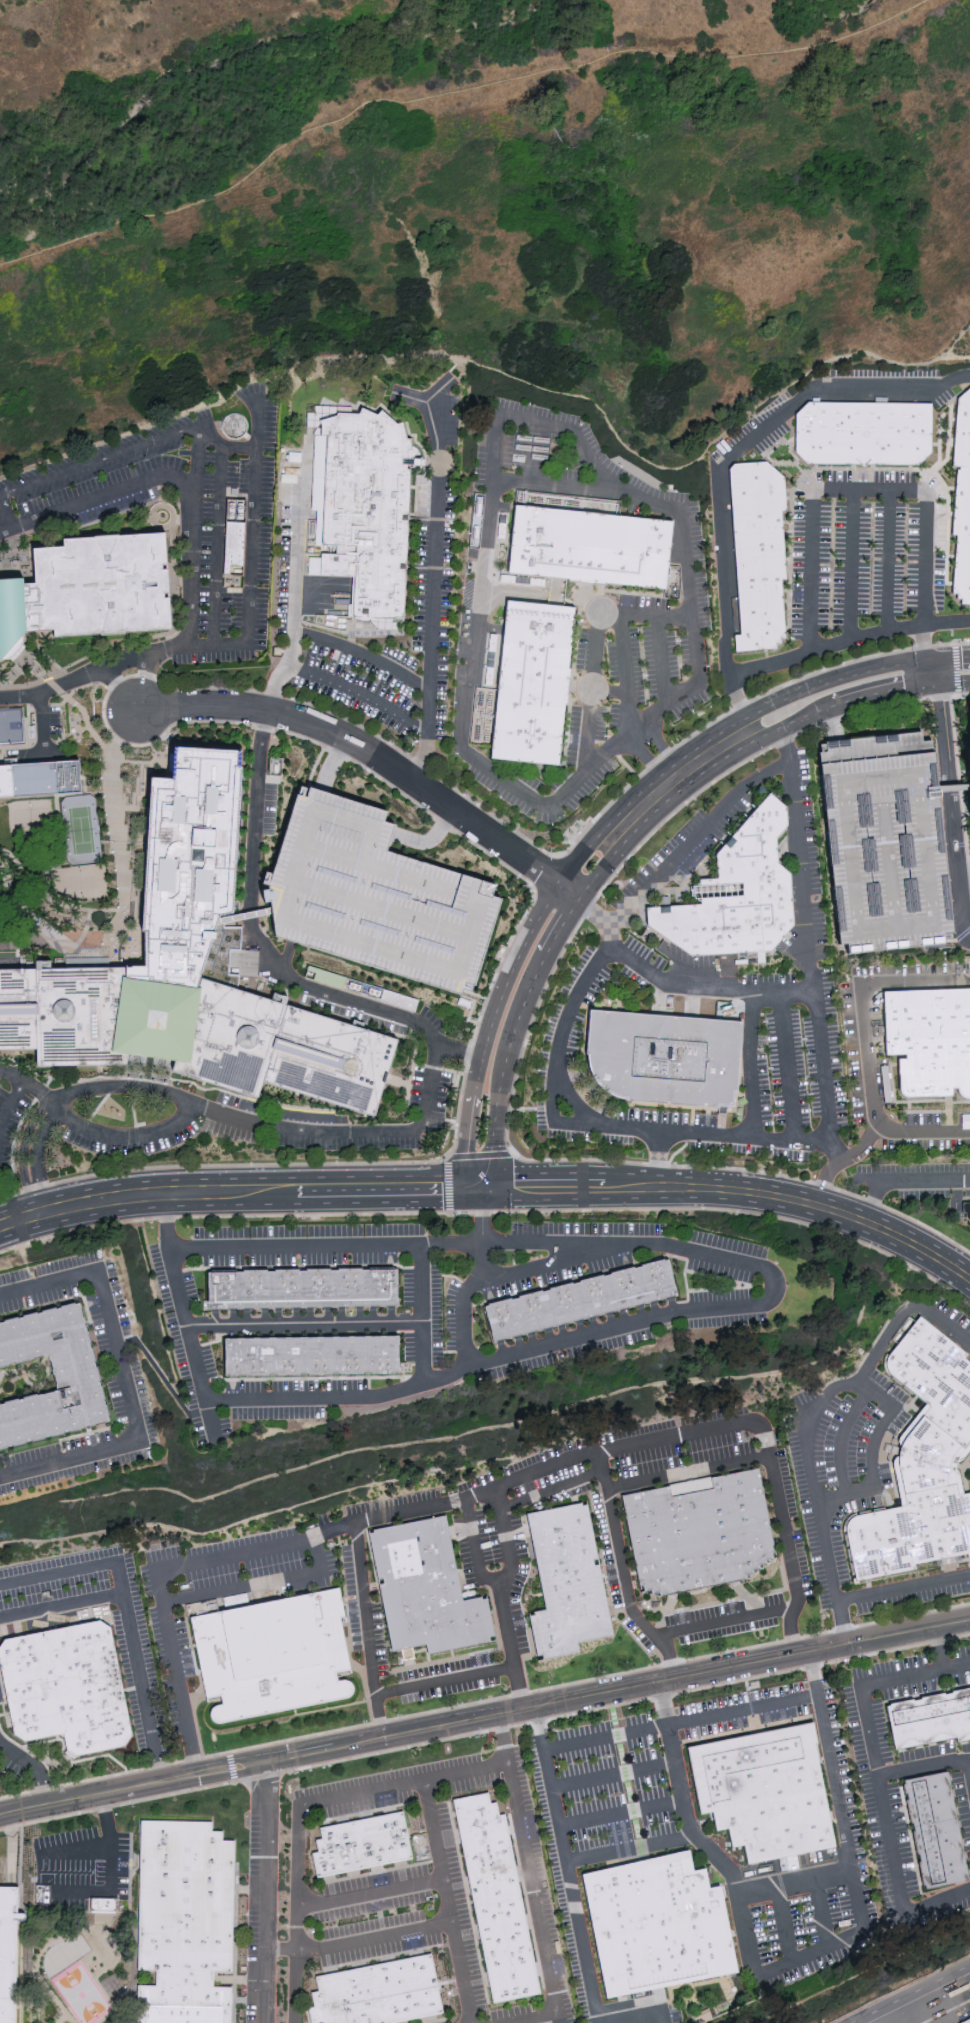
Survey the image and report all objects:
road: (448, 94)
road: (957, 338)
road: (511, 375)
road: (441, 388)
parking lot: (941, 392)
parking lot: (759, 429)
building: (863, 433)
road: (746, 443)
road: (222, 447)
road: (195, 450)
road: (491, 457)
parking lot: (869, 481)
road: (558, 487)
road: (853, 491)
road: (161, 494)
road: (96, 499)
building: (962, 501)
building: (367, 510)
road: (5, 516)
road: (148, 516)
parking lot: (181, 516)
road: (177, 518)
building: (235, 532)
road: (435, 546)
building: (589, 546)
road: (216, 547)
road: (249, 553)
building: (758, 556)
parking lot: (925, 557)
parking lot: (888, 559)
road: (295, 560)
parking lot: (850, 562)
road: (889, 562)
road: (169, 564)
road: (850, 566)
parking lot: (810, 567)
road: (170, 576)
building: (88, 586)
road: (170, 591)
road: (145, 637)
road: (848, 641)
road: (922, 642)
road: (596, 645)
road: (364, 655)
road: (951, 656)
traffic signals: (934, 658)
traffic signals: (925, 659)
road: (662, 660)
road: (20, 668)
road: (956, 669)
road: (38, 670)
road: (8, 673)
road: (623, 676)
road: (837, 679)
road: (78, 680)
road: (142, 681)
building: (532, 682)
road: (88, 684)
traffic signals: (937, 684)
parking lot: (0, 686)
road: (56, 686)
road: (118, 687)
road: (359, 691)
road: (959, 695)
road: (860, 699)
road: (739, 704)
road: (193, 722)
building: (11, 725)
park: (11, 725)
road: (635, 729)
road: (43, 736)
road: (113, 756)
road: (376, 757)
road: (142, 761)
road: (330, 764)
building: (275, 766)
building: (968, 766)
road: (682, 777)
building: (39, 778)
road: (952, 788)
road: (960, 788)
road: (949, 798)
park: (29, 817)
park: (79, 829)
road: (428, 841)
building: (881, 847)
parking lot: (881, 847)
road: (252, 850)
road: (680, 851)
road: (969, 861)
park: (79, 882)
building: (736, 893)
building: (374, 896)
parking garage: (374, 896)
road: (72, 907)
road: (90, 915)
road: (243, 916)
road: (88, 922)
road: (48, 934)
road: (3, 945)
road: (521, 949)
road: (810, 949)
road: (286, 961)
road: (249, 963)
building: (189, 972)
road: (668, 984)
building: (360, 988)
road: (860, 997)
road: (524, 998)
road: (365, 1004)
road: (646, 1006)
parking lot: (353, 1013)
parking lot: (431, 1019)
road: (748, 1030)
road: (523, 1046)
building: (927, 1047)
road: (459, 1051)
building: (662, 1058)
road: (786, 1065)
road: (25, 1084)
road: (566, 1092)
road: (9, 1103)
road: (186, 1104)
road: (50, 1109)
parking lot: (9, 1119)
road: (582, 1124)
parking lot: (300, 1125)
road: (925, 1127)
road: (346, 1133)
road: (472, 1137)
road: (657, 1156)
road: (844, 1161)
parking lot: (920, 1168)
traffic signals: (481, 1180)
road: (902, 1183)
road: (447, 1185)
road: (238, 1186)
road: (735, 1188)
parking lot: (928, 1194)
building: (965, 1211)
road: (494, 1212)
road: (327, 1245)
building: (305, 1294)
road: (773, 1296)
building: (583, 1306)
road: (189, 1313)
road: (425, 1314)
parking lot: (950, 1322)
road: (309, 1324)
building: (314, 1362)
road: (125, 1377)
building: (76, 1378)
road: (165, 1380)
road: (434, 1381)
road: (810, 1423)
parking lot: (715, 1436)
road: (841, 1440)
parking lot: (643, 1449)
road: (870, 1454)
building: (921, 1463)
road: (688, 1471)
parking lot: (544, 1473)
parking lot: (786, 1482)
parking lot: (850, 1486)
road: (551, 1490)
road: (473, 1495)
parking lot: (392, 1501)
parking lot: (321, 1520)
building: (700, 1532)
road: (472, 1546)
parking lot: (606, 1549)
parking lot: (494, 1559)
parking lot: (802, 1564)
parking lot: (255, 1565)
road: (623, 1572)
building: (565, 1579)
road: (122, 1581)
road: (259, 1582)
building: (425, 1588)
road: (902, 1591)
road: (498, 1594)
building: (236, 1600)
parking lot: (363, 1608)
parking lot: (723, 1620)
road: (726, 1622)
parking lot: (167, 1629)
road: (368, 1631)
parking lot: (638, 1635)
road: (937, 1648)
building: (272, 1653)
road: (445, 1677)
parking lot: (447, 1678)
road: (145, 1687)
building: (67, 1688)
parking lot: (143, 1694)
parking lot: (1, 1695)
road: (484, 1701)
parking lot: (742, 1711)
road: (485, 1718)
building: (929, 1720)
road: (680, 1723)
road: (485, 1732)
road: (923, 1763)
road: (36, 1765)
road: (968, 1767)
parking lot: (13, 1768)
road: (612, 1774)
parking lot: (839, 1780)
road: (878, 1780)
parking lot: (896, 1782)
parking lot: (396, 1788)
building: (762, 1790)
parking lot: (963, 1807)
road: (300, 1808)
road: (620, 1813)
road: (103, 1819)
building: (934, 1824)
parking lot: (600, 1830)
building: (361, 1845)
road: (630, 1849)
road: (109, 1861)
road: (565, 1865)
road: (529, 1869)
road: (795, 1881)
road: (265, 1892)
road: (370, 1894)
parking lot: (373, 1895)
building: (495, 1896)
road: (447, 1902)
parking lot: (454, 1909)
road: (820, 1912)
parking lot: (262, 1919)
building: (184, 1922)
building: (655, 1924)
road: (783, 1924)
road: (132, 1930)
parking lot: (377, 1939)
road: (359, 1941)
road: (34, 1951)
building: (7, 1952)
park: (94, 1957)
road: (795, 1960)
road: (134, 1976)
road: (97, 1980)
park: (76, 1993)
road: (909, 1993)
building: (378, 1994)
road: (937, 2002)
road: (61, 2003)
parking lot: (556, 2006)
road: (904, 2011)
parking lot: (921, 2012)
road: (641, 2016)
road: (533, 2017)
road: (536, 2020)
road: (860, 2020)
building: (965, 2020)
parking lot: (443, 2022)

